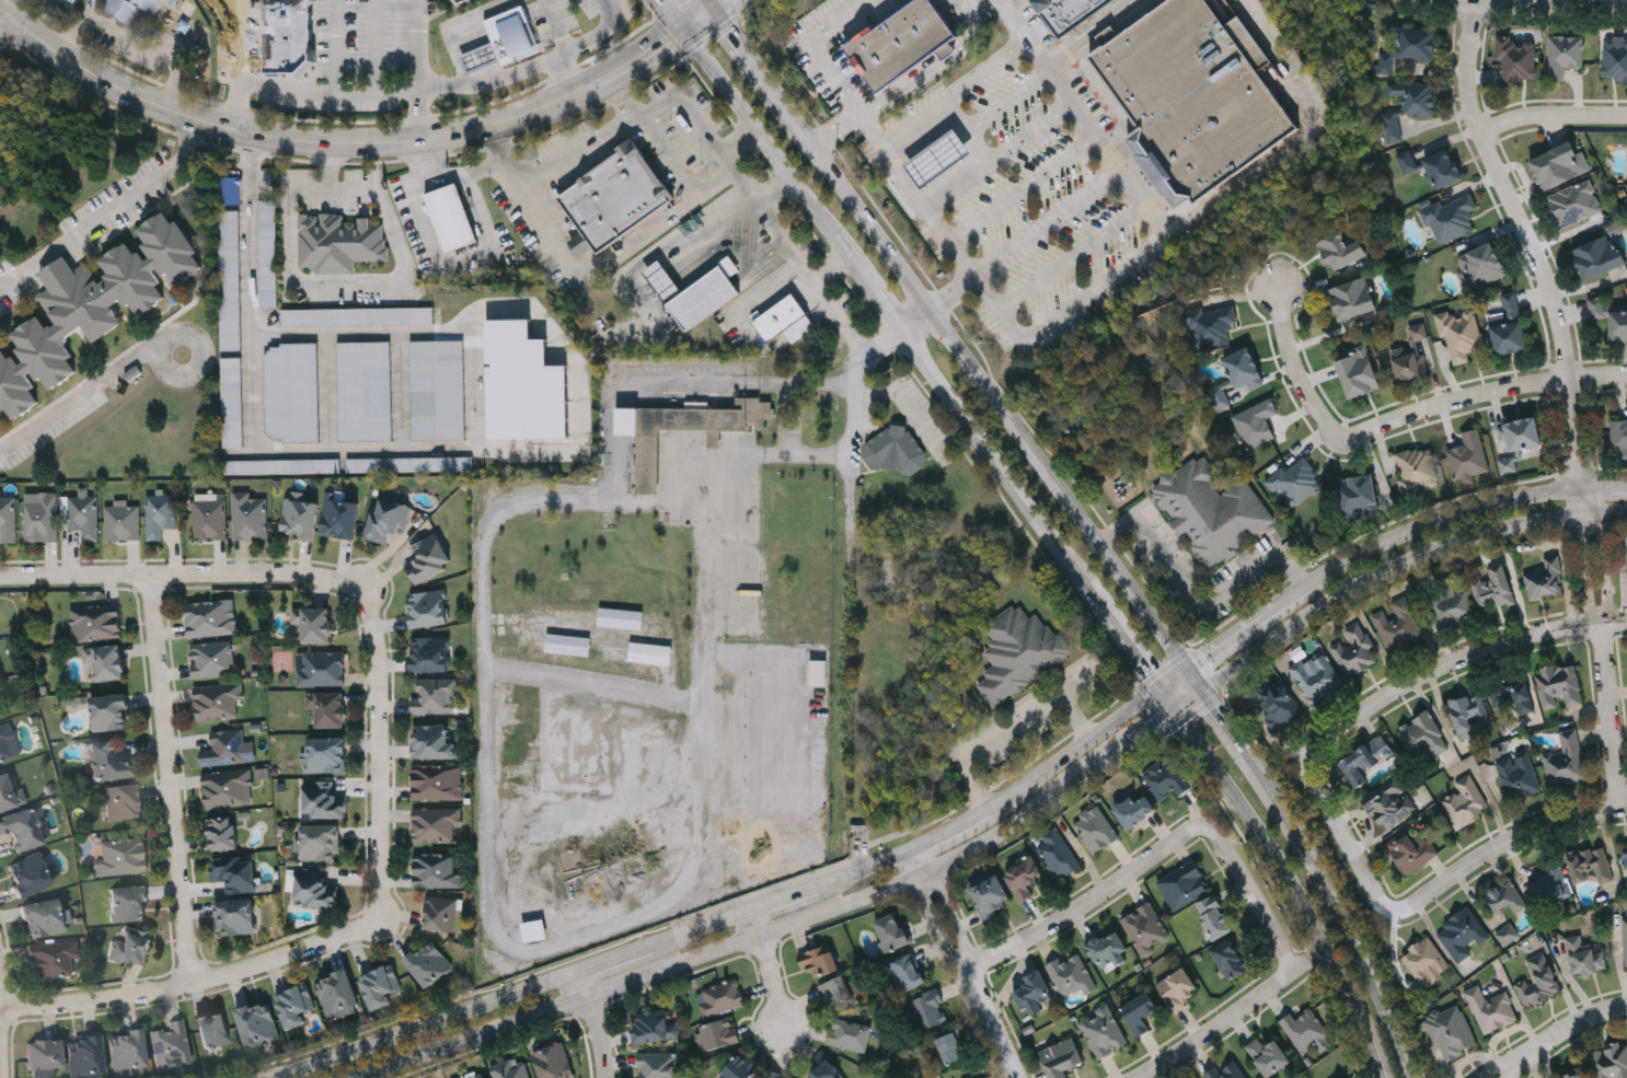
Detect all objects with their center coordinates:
building: (458, 1)
road: (713, 3)
traffic signals: (715, 7)
building: (132, 9)
building: (1068, 12)
road: (702, 15)
road: (668, 16)
road: (557, 24)
road: (451, 25)
road: (484, 27)
road: (5, 28)
road: (477, 30)
road: (1087, 31)
road: (470, 33)
traffic signals: (680, 33)
building: (287, 35)
road: (463, 35)
road: (455, 36)
building: (505, 39)
road: (416, 43)
building: (902, 44)
road: (337, 46)
road: (378, 46)
building: (1408, 48)
road: (493, 50)
road: (818, 50)
road: (747, 53)
road: (486, 54)
building: (1563, 55)
road: (478, 57)
building: (1615, 57)
road: (472, 59)
building: (1516, 59)
road: (465, 62)
road: (235, 65)
road: (500, 68)
road: (986, 68)
road: (493, 71)
road: (485, 74)
road: (509, 74)
road: (477, 76)
road: (471, 78)
road: (565, 79)
road: (326, 92)
building: (1193, 95)
road: (1009, 97)
building: (1408, 105)
road: (785, 108)
road: (1553, 114)
road: (1082, 116)
road: (695, 117)
road: (914, 120)
road: (836, 128)
road: (971, 129)
road: (1036, 132)
road: (1304, 136)
road: (738, 142)
road: (336, 144)
road: (765, 148)
building: (937, 159)
gas station: (937, 159)
building: (1559, 165)
road: (250, 166)
building: (1433, 166)
road: (551, 169)
road: (446, 173)
road: (904, 175)
road: (962, 184)
road: (1023, 185)
building: (230, 190)
building: (614, 195)
building: (1626, 198)
building: (1574, 204)
road: (751, 209)
road: (106, 211)
building: (451, 217)
building: (1450, 217)
road: (1049, 223)
road: (1528, 240)
building: (339, 243)
building: (1340, 250)
building: (268, 253)
road: (623, 253)
road: (1073, 255)
road: (962, 256)
building: (1599, 256)
road: (458, 260)
road: (251, 265)
building: (1481, 265)
building: (230, 280)
road: (809, 280)
road: (332, 282)
road: (1096, 282)
road: (988, 292)
building: (692, 294)
road: (877, 294)
building: (1352, 298)
road: (937, 302)
building: (92, 308)
building: (358, 316)
building: (1609, 317)
building: (785, 321)
road: (1011, 324)
building: (1508, 325)
building: (1210, 326)
building: (1461, 334)
road: (201, 358)
building: (1408, 362)
building: (1358, 373)
building: (1237, 379)
road: (1300, 380)
building: (524, 384)
building: (438, 390)
road: (1492, 390)
building: (366, 391)
road: (993, 391)
building: (292, 392)
road: (77, 396)
building: (232, 402)
road: (908, 402)
road: (854, 403)
building: (1255, 424)
building: (1521, 433)
building: (1618, 438)
building: (648, 441)
road: (471, 447)
building: (895, 450)
road: (991, 455)
building: (1467, 457)
road: (611, 460)
building: (409, 463)
building: (281, 466)
building: (1417, 470)
building: (1295, 482)
road: (1606, 485)
building: (1359, 497)
building: (1211, 510)
building: (84, 515)
building: (161, 515)
building: (341, 515)
building: (250, 517)
building: (299, 517)
building: (42, 518)
building: (8, 520)
building: (209, 520)
building: (388, 520)
building: (123, 523)
road: (1428, 524)
building: (429, 559)
road: (1404, 566)
building: (1626, 566)
road: (184, 578)
building: (1544, 580)
building: (1493, 589)
road: (1196, 600)
building: (1451, 606)
building: (429, 608)
building: (621, 618)
building: (210, 621)
building: (96, 623)
building: (314, 624)
building: (1397, 625)
road: (1239, 633)
road: (1120, 635)
building: (568, 645)
road: (1605, 646)
building: (1354, 650)
building: (1019, 652)
building: (650, 653)
building: (431, 654)
road: (1463, 658)
building: (212, 659)
building: (106, 661)
traffic signals: (1193, 665)
building: (321, 670)
building: (819, 673)
road: (1200, 675)
road: (1176, 676)
building: (1313, 676)
road: (1082, 684)
building: (1558, 685)
traffic signals: (1208, 686)
traffic signals: (1158, 687)
building: (1511, 693)
building: (435, 696)
building: (218, 700)
road: (1166, 700)
road: (1191, 700)
building: (77, 703)
building: (1279, 705)
building: (328, 709)
building: (111, 712)
building: (1468, 714)
traffic signals: (1175, 715)
road: (1013, 731)
building: (1422, 735)
building: (435, 742)
road: (1248, 743)
building: (8, 745)
building: (228, 747)
road: (1074, 750)
building: (327, 755)
road: (385, 755)
building: (1364, 760)
building: (1565, 761)
building: (109, 763)
building: (1518, 776)
road: (175, 778)
building: (1166, 778)
building: (436, 783)
building: (228, 788)
building: (9, 796)
building: (325, 801)
building: (1464, 801)
building: (123, 802)
building: (1388, 803)
building: (1135, 811)
building: (436, 825)
building: (22, 830)
building: (1096, 830)
road: (955, 831)
building: (223, 834)
building: (321, 843)
road: (1162, 851)
building: (1410, 851)
building: (1059, 854)
building: (1625, 854)
building: (122, 859)
building: (1590, 865)
road: (869, 867)
building: (436, 871)
building: (235, 873)
road: (1278, 873)
building: (30, 876)
building: (1025, 877)
building: (1550, 881)
building: (1184, 884)
building: (315, 890)
building: (991, 895)
road: (1423, 895)
building: (1502, 896)
road: (784, 900)
building: (130, 904)
building: (441, 914)
building: (235, 916)
building: (1215, 916)
building: (43, 919)
building: (1147, 928)
road: (701, 929)
building: (534, 930)
road: (783, 930)
building: (892, 931)
road: (1363, 934)
building: (1461, 934)
building: (1508, 935)
building: (1625, 940)
building: (130, 948)
building: (1108, 949)
building: (1584, 955)
road: (615, 958)
building: (1232, 959)
building: (820, 960)
building: (51, 962)
building: (1424, 962)
road: (969, 963)
building: (429, 964)
road: (768, 970)
building: (907, 972)
building: (1072, 974)
road: (194, 980)
building: (1538, 982)
building: (381, 986)
building: (1180, 989)
building: (838, 990)
building: (338, 993)
building: (1034, 993)
building: (722, 997)
building: (296, 1006)
building: (931, 1009)
building: (1490, 1009)
building: (1141, 1011)
road: (1230, 1016)
building: (257, 1023)
road: (597, 1023)
road: (423, 1024)
building: (655, 1025)
building: (1306, 1028)
building: (215, 1031)
building: (1105, 1032)
building: (1452, 1032)
road: (1566, 1032)
building: (717, 1034)
building: (850, 1034)
building: (171, 1046)
building: (953, 1047)
building: (127, 1051)
building: (44, 1055)
building: (1269, 1055)
building: (85, 1056)
building: (1062, 1057)
road: (1368, 1060)
building: (1611, 1060)
building: (554, 1062)
building: (658, 1065)
building: (741, 1067)
building: (512, 1068)
building: (827, 1070)
building: (1226, 1071)
road: (1493, 1071)
road: (1504, 1071)
building: (475, 1075)
building: (775, 1075)
building: (1574, 1076)

